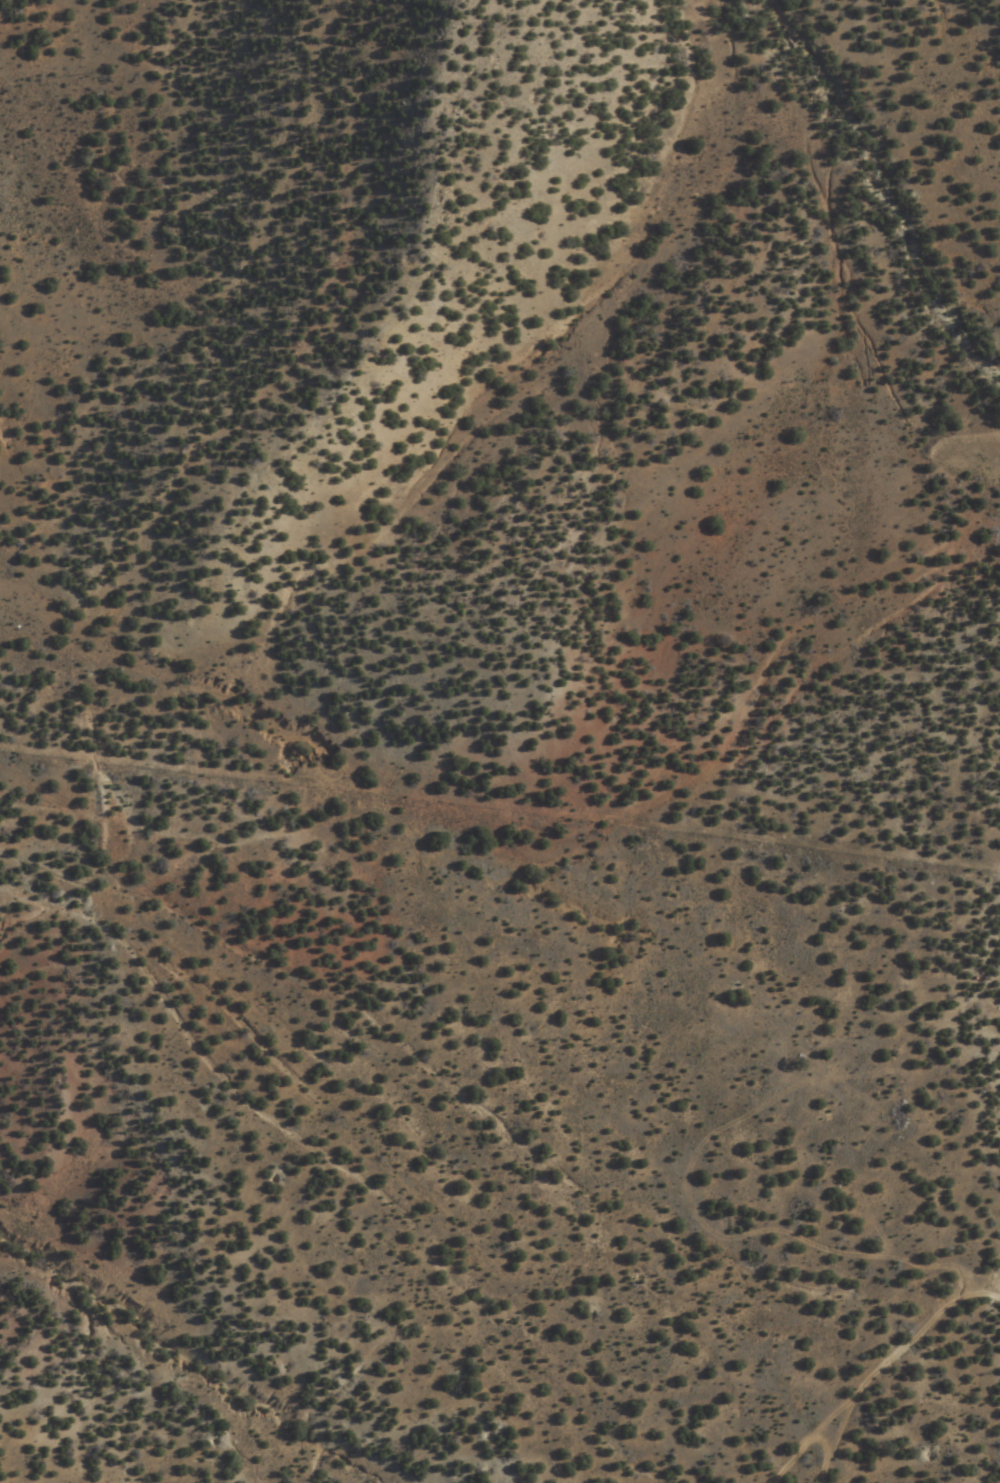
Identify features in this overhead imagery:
road: (889, 1375)

